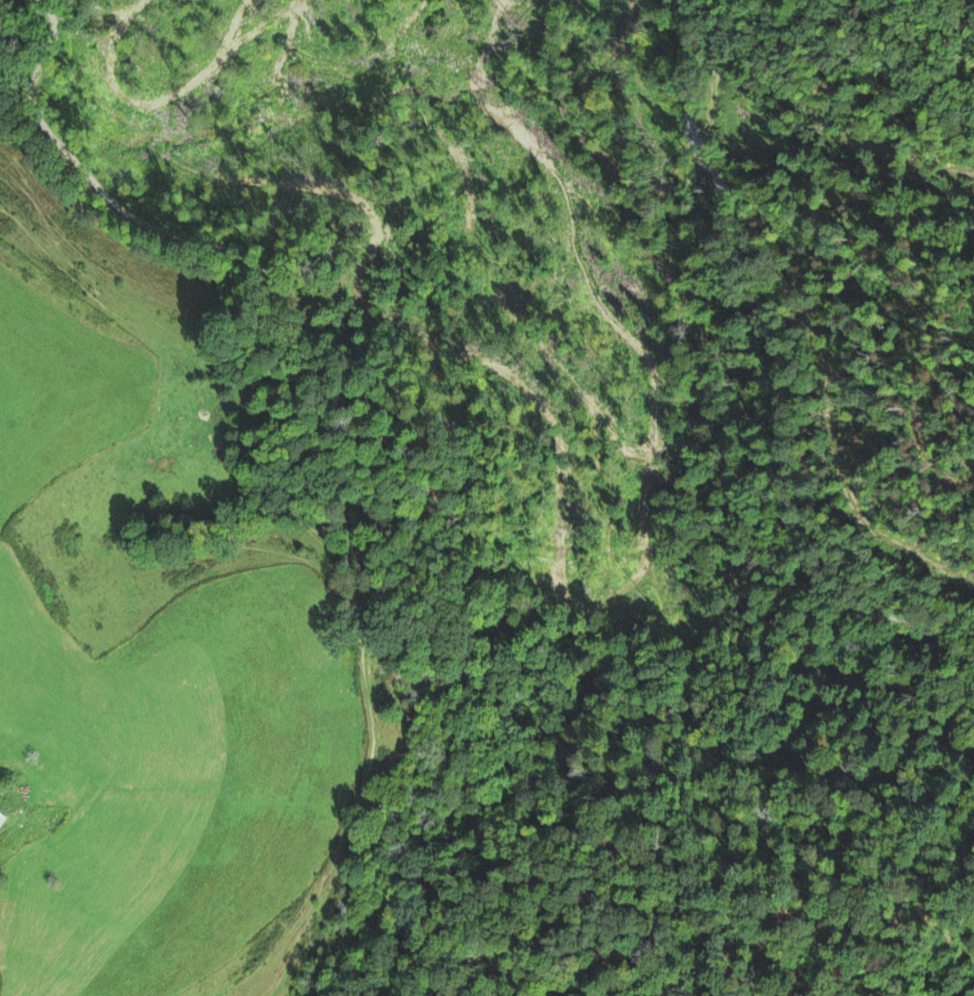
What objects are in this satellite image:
road: (778, 370)
road: (461, 536)
building: (3, 816)

